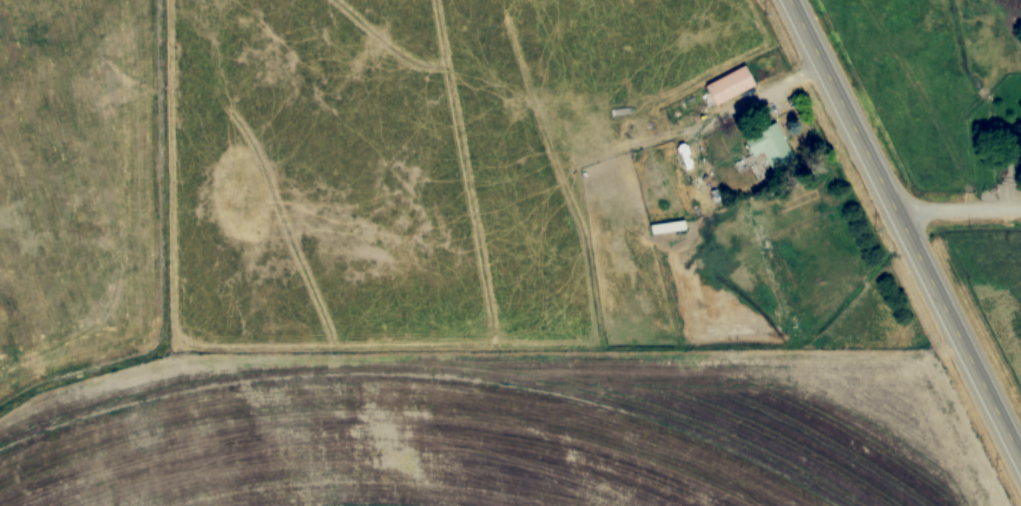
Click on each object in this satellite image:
building: (731, 85)
building: (771, 146)
road: (958, 211)
building: (667, 227)
road: (905, 231)

